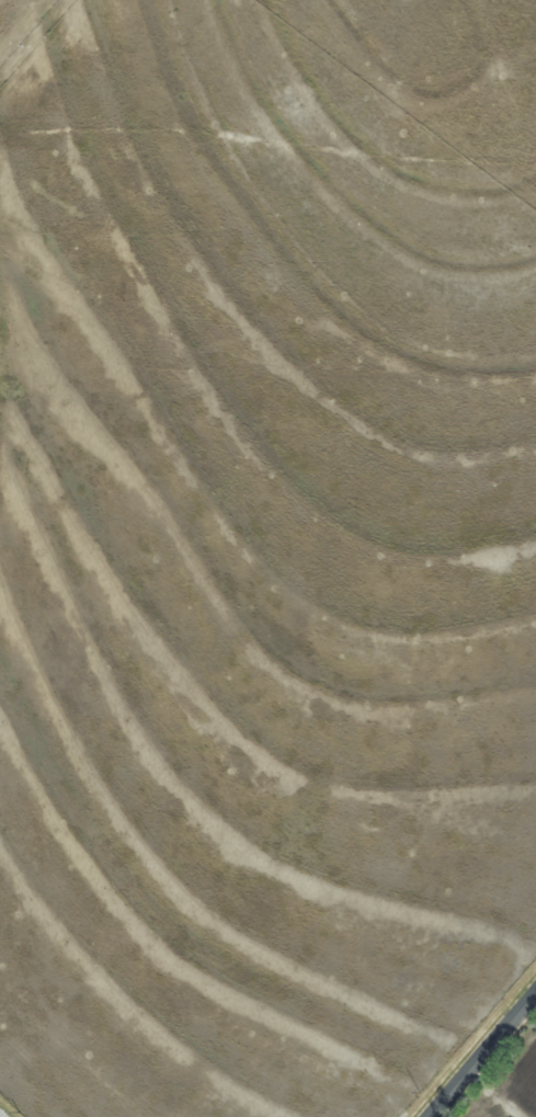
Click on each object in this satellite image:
road: (483, 1055)
road: (1, 1115)

